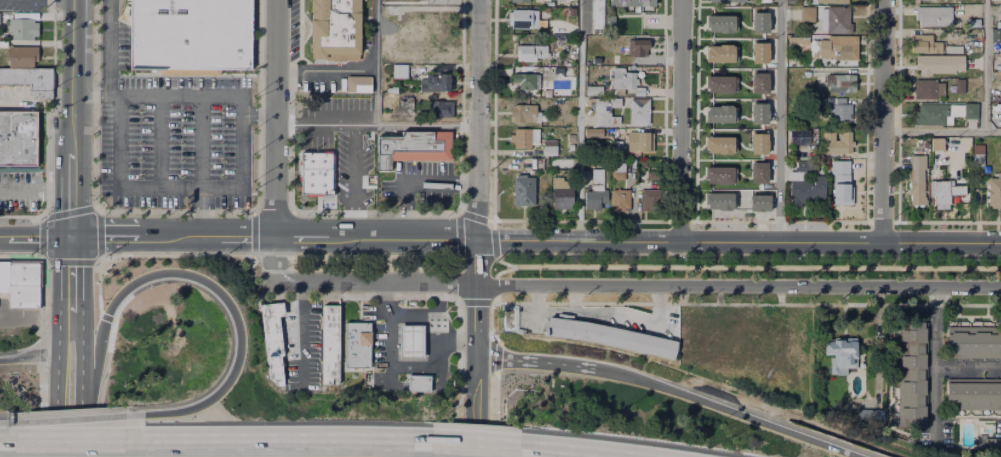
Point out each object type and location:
building: (520, 0)
building: (543, 0)
building: (728, 1)
building: (763, 1)
building: (828, 2)
building: (632, 3)
road: (109, 12)
building: (598, 14)
building: (934, 17)
building: (829, 18)
building: (523, 19)
building: (720, 24)
building: (760, 24)
building: (333, 28)
building: (24, 29)
building: (189, 35)
building: (996, 35)
road: (71, 37)
building: (792, 39)
building: (922, 44)
building: (637, 48)
building: (952, 48)
building: (834, 49)
building: (531, 53)
building: (617, 54)
building: (720, 54)
building: (760, 54)
building: (23, 56)
road: (108, 58)
road: (376, 62)
building: (939, 65)
road: (984, 65)
road: (325, 70)
building: (400, 72)
building: (553, 72)
building: (28, 77)
building: (526, 79)
building: (772, 81)
building: (434, 82)
building: (627, 82)
building: (841, 83)
building: (356, 84)
building: (759, 84)
building: (719, 85)
building: (960, 87)
building: (928, 89)
building: (546, 91)
building: (594, 91)
road: (94, 93)
road: (36, 105)
building: (403, 106)
building: (440, 110)
building: (772, 111)
building: (970, 111)
building: (995, 111)
building: (605, 112)
building: (638, 112)
building: (841, 113)
road: (72, 114)
building: (524, 114)
building: (720, 114)
building: (760, 114)
road: (257, 115)
building: (931, 115)
road: (478, 119)
road: (580, 120)
road: (679, 120)
road: (779, 120)
road: (883, 120)
road: (376, 124)
road: (942, 131)
building: (799, 137)
building: (525, 139)
building: (18, 140)
road: (160, 140)
road: (274, 140)
road: (200, 141)
building: (770, 141)
building: (843, 141)
parking lot: (180, 143)
building: (640, 143)
building: (759, 144)
building: (937, 144)
building: (719, 145)
building: (414, 148)
building: (550, 148)
building: (619, 148)
building: (978, 155)
building: (324, 157)
building: (551, 161)
building: (804, 165)
road: (117, 167)
parking lot: (356, 168)
building: (759, 173)
building: (719, 175)
building: (618, 176)
building: (652, 176)
building: (798, 176)
building: (314, 180)
road: (353, 180)
building: (597, 180)
building: (918, 180)
building: (562, 183)
road: (414, 184)
building: (841, 184)
road: (20, 190)
road: (56, 190)
building: (961, 190)
building: (522, 192)
building: (994, 192)
building: (807, 193)
building: (941, 194)
road: (72, 195)
building: (595, 200)
building: (620, 200)
building: (649, 201)
building: (718, 202)
building: (760, 203)
building: (561, 205)
road: (201, 210)
road: (272, 211)
road: (67, 212)
road: (172, 212)
road: (375, 212)
road: (472, 216)
road: (490, 220)
road: (578, 220)
road: (679, 220)
road: (779, 221)
road: (880, 221)
road: (946, 222)
road: (99, 234)
road: (104, 234)
road: (180, 234)
road: (253, 234)
road: (248, 235)
traffic signals: (72, 236)
road: (375, 236)
road: (458, 236)
road: (41, 237)
road: (41, 237)
road: (5, 238)
road: (738, 241)
road: (494, 243)
road: (146, 255)
road: (272, 255)
road: (381, 258)
road: (477, 260)
road: (70, 262)
park: (374, 262)
park: (749, 266)
road: (747, 267)
road: (504, 270)
building: (21, 283)
road: (206, 283)
road: (456, 283)
road: (636, 285)
road: (495, 286)
road: (80, 288)
road: (60, 292)
road: (44, 293)
road: (337, 295)
road: (575, 298)
road: (474, 302)
road: (492, 303)
road: (744, 303)
road: (603, 311)
building: (506, 312)
road: (105, 318)
road: (476, 319)
road: (301, 333)
building: (611, 338)
building: (271, 339)
building: (411, 341)
building: (359, 345)
building: (975, 345)
building: (329, 346)
road: (41, 348)
road: (29, 354)
building: (841, 356)
road: (541, 362)
road: (934, 363)
road: (402, 366)
road: (967, 370)
building: (913, 376)
road: (631, 378)
building: (417, 385)
road: (100, 388)
building: (974, 395)
road: (81, 399)
road: (58, 404)
road: (476, 406)
road: (40, 412)
building: (870, 417)
road: (72, 420)
road: (758, 421)
road: (71, 442)
road: (285, 443)
building: (993, 446)
road: (475, 447)
road: (550, 453)

